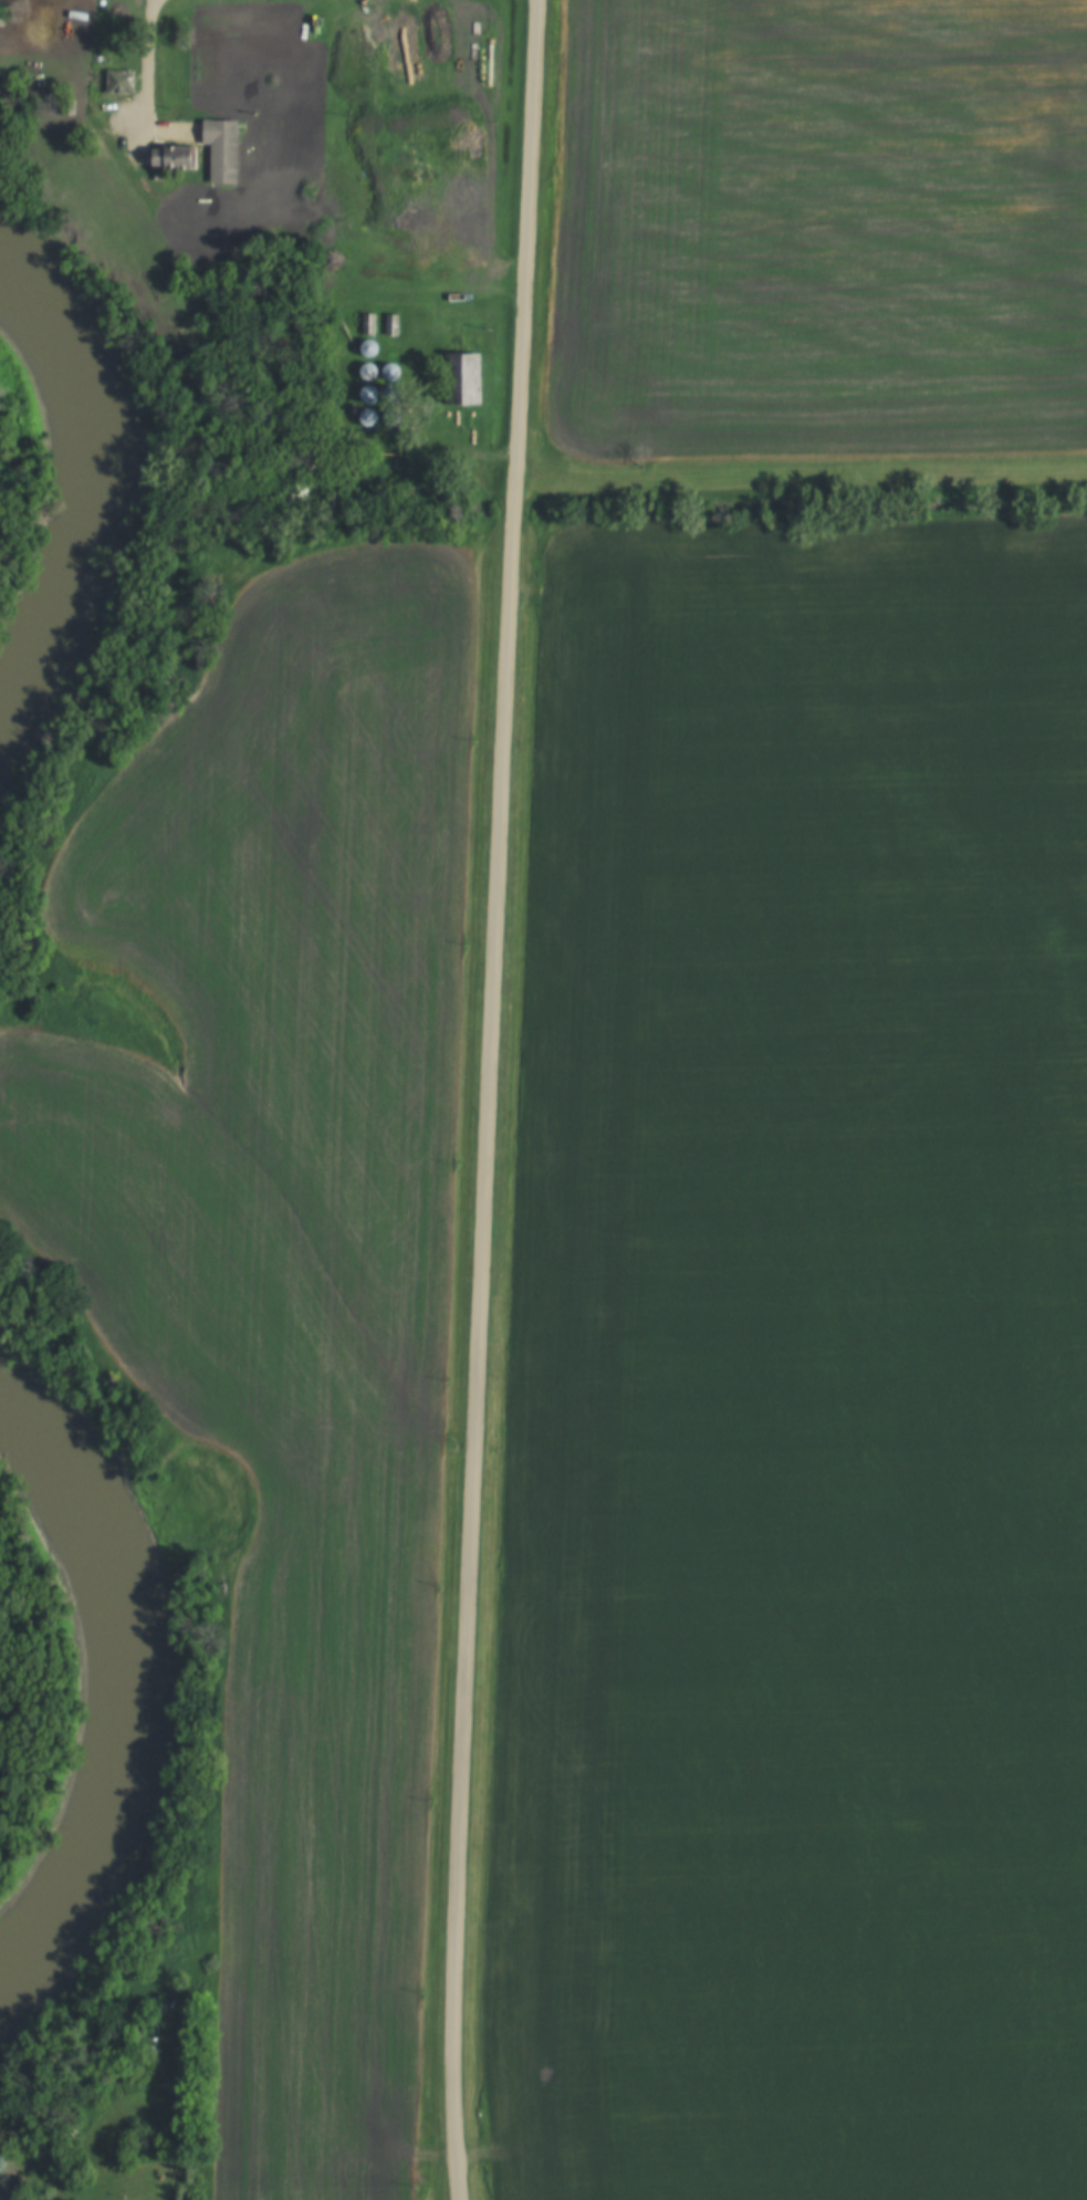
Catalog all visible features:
road: (147, 59)
building: (118, 80)
building: (220, 149)
building: (170, 156)
crop: (821, 230)
building: (463, 377)
road: (802, 473)
river: (70, 508)
crop: (805, 1049)
road: (490, 1099)
crop: (290, 1274)
river: (102, 1700)
crop: (790, 1883)

